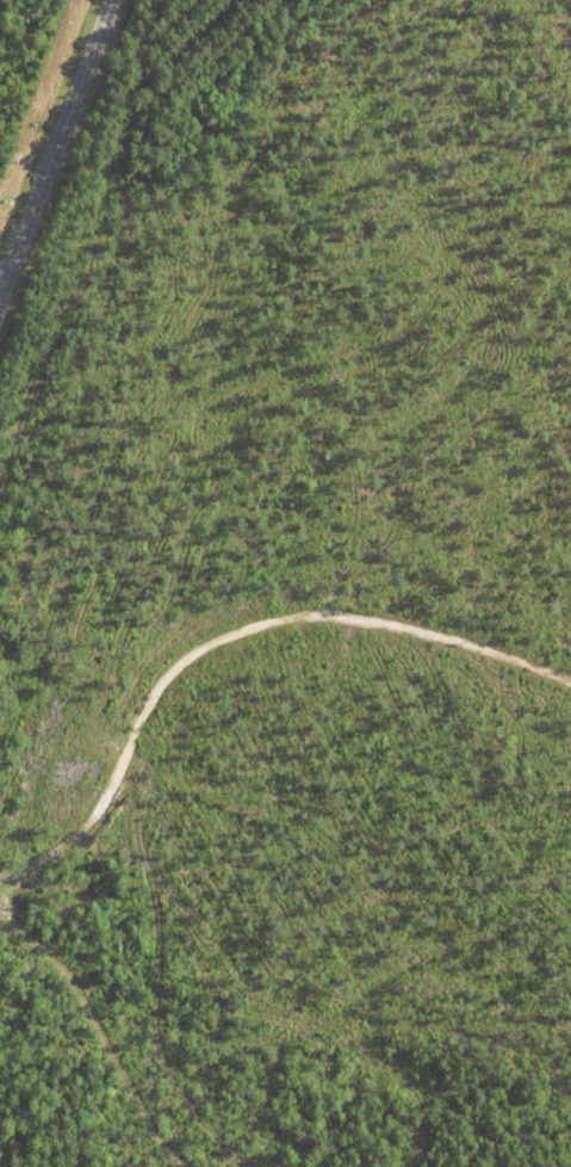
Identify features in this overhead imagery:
road: (52, 152)
road: (5, 274)

